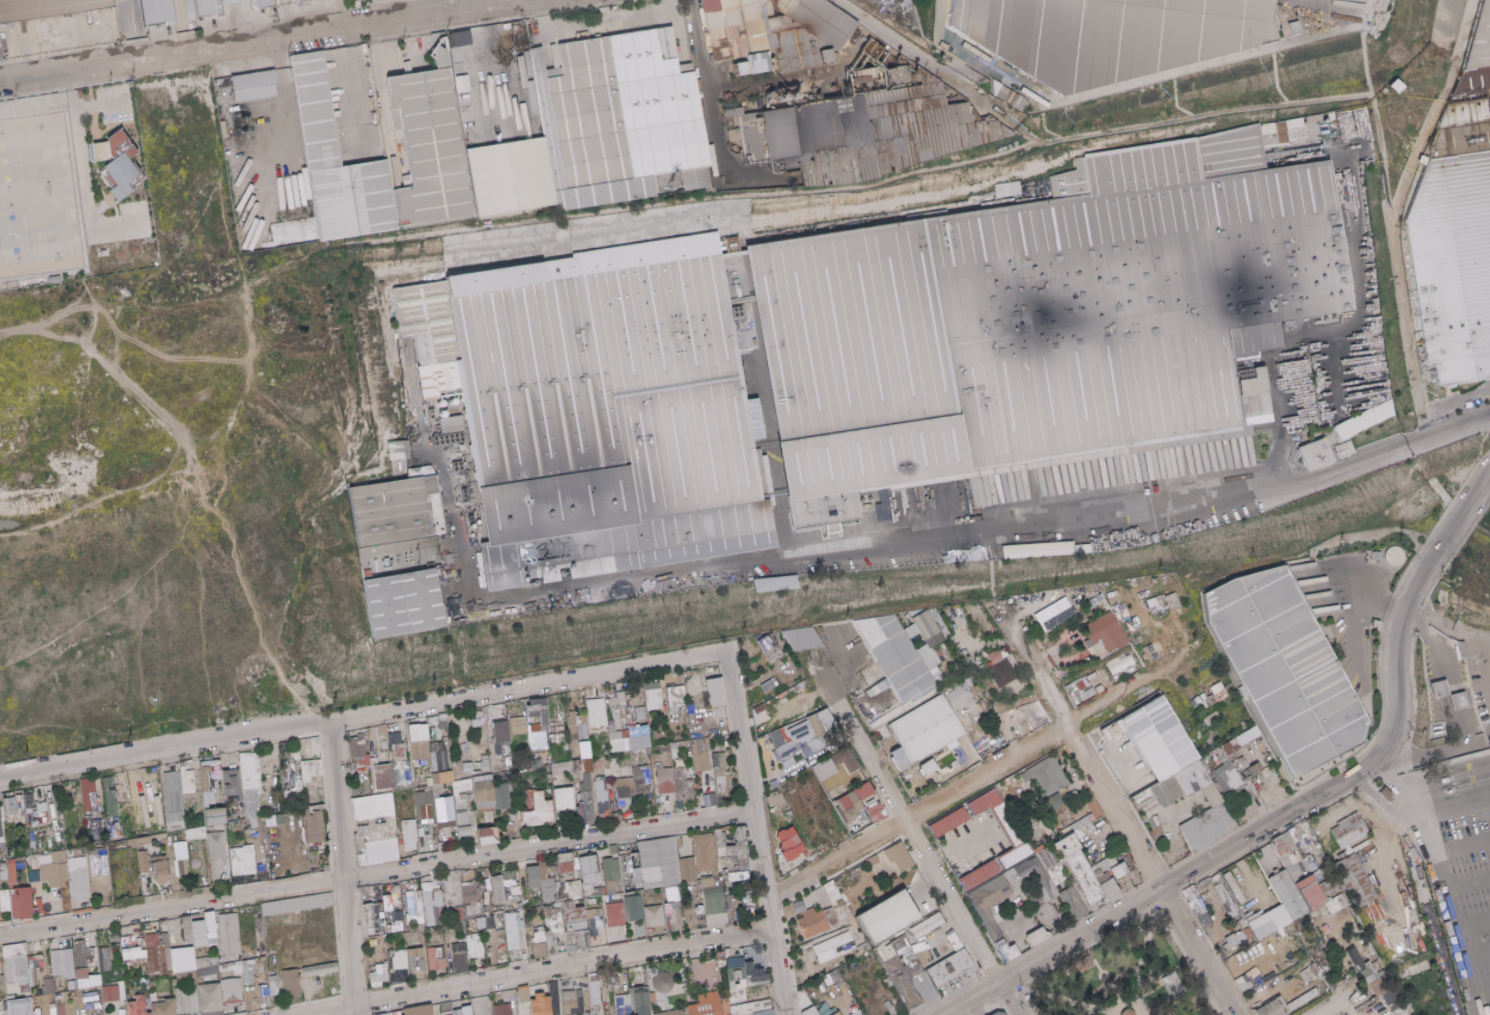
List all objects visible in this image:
park: (1124, 978)

